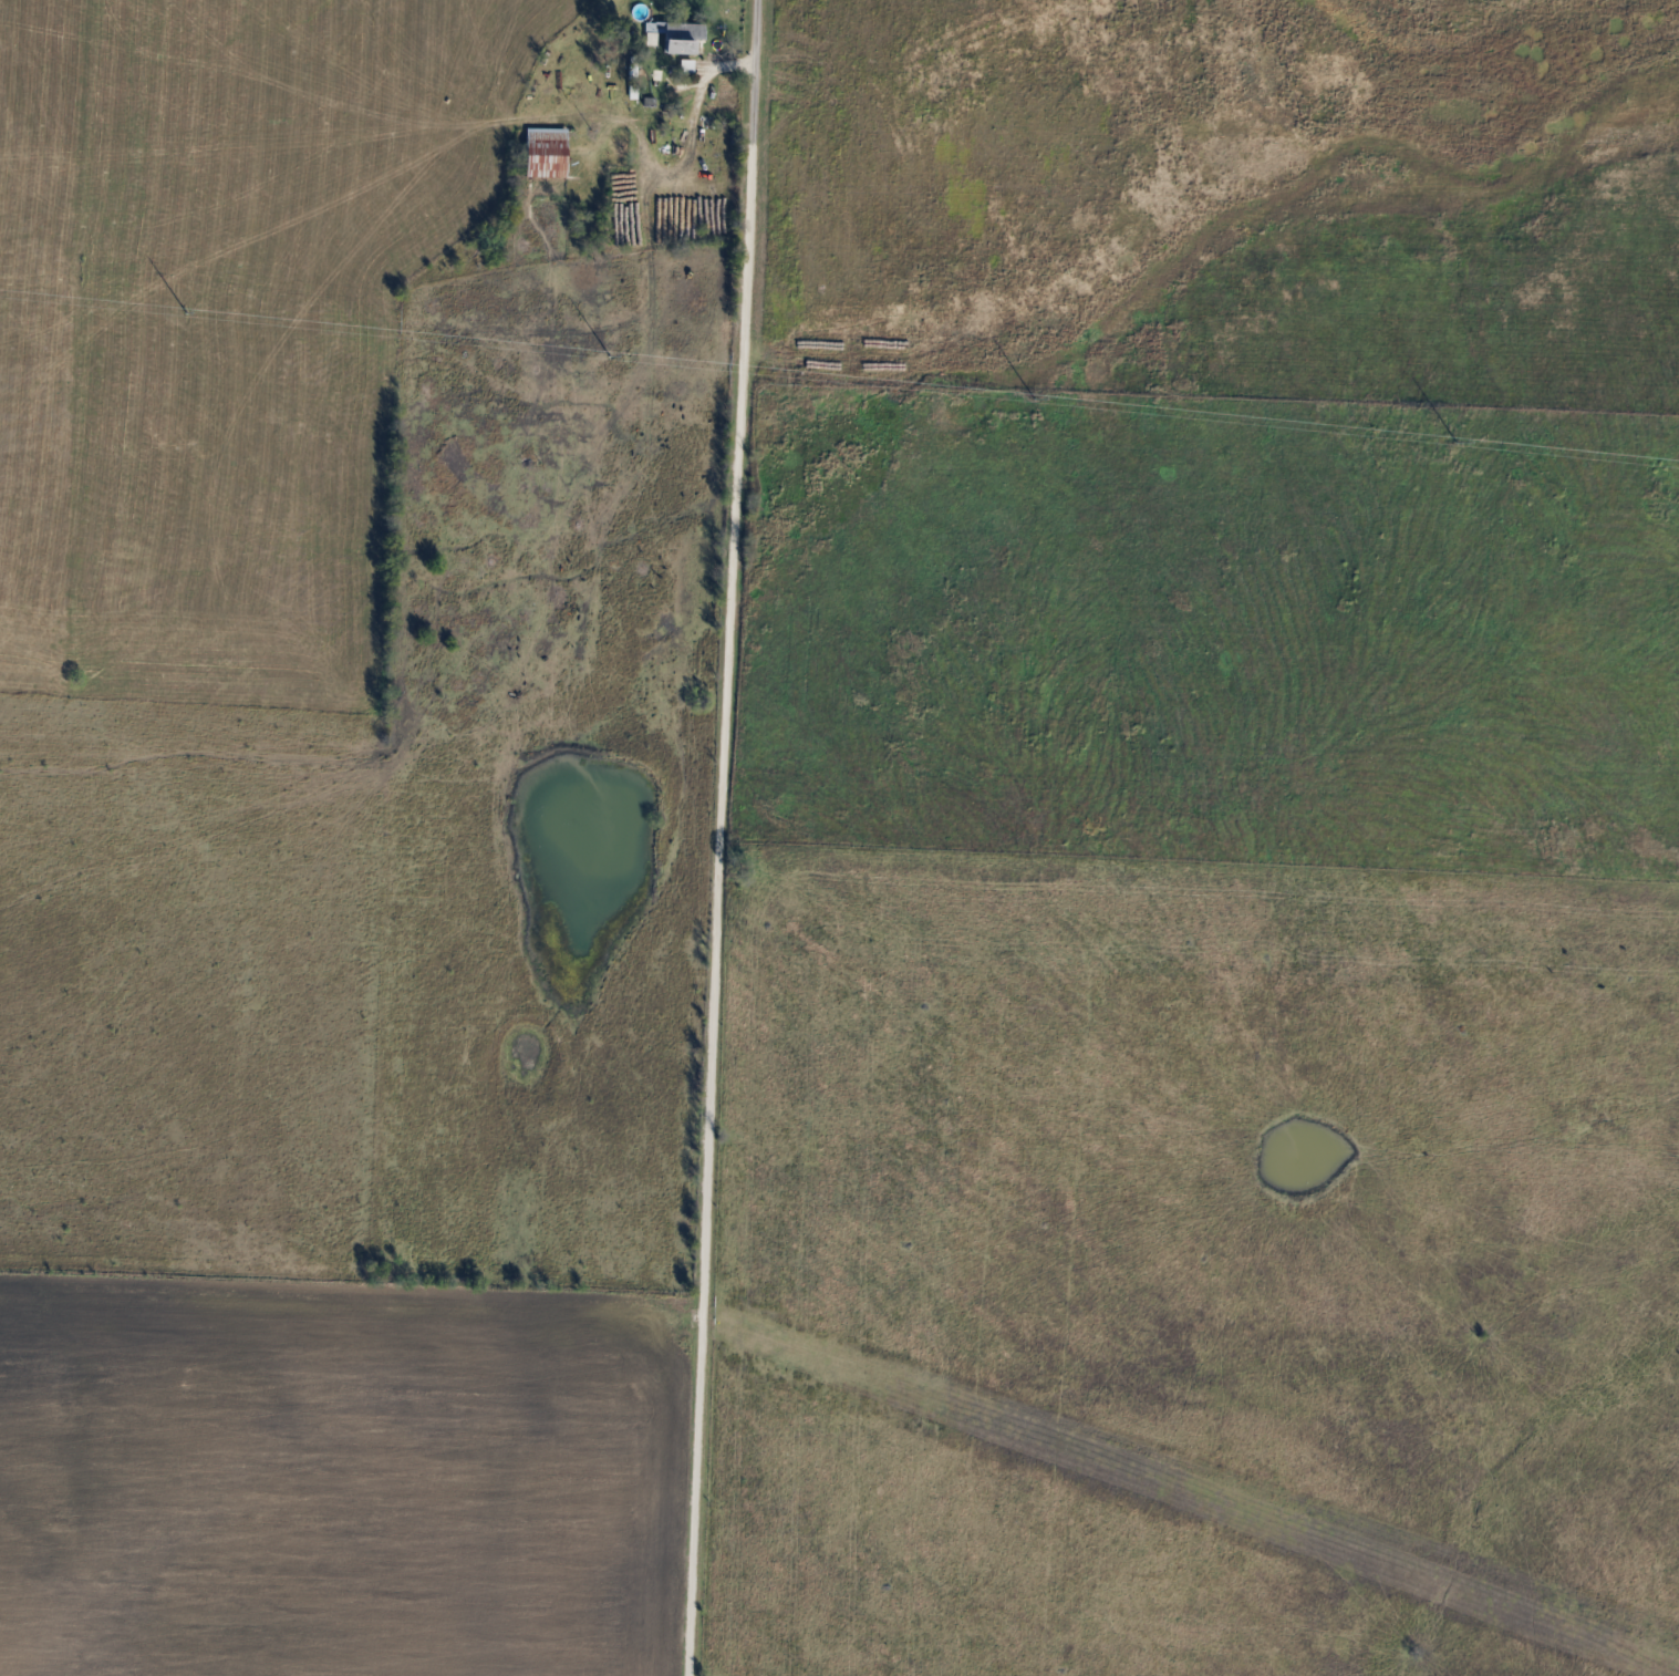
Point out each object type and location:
building: (677, 35)
building: (546, 153)
power tower: (184, 310)
power tower: (608, 355)
power tower: (1032, 397)
power tower: (1455, 444)
road: (722, 838)

